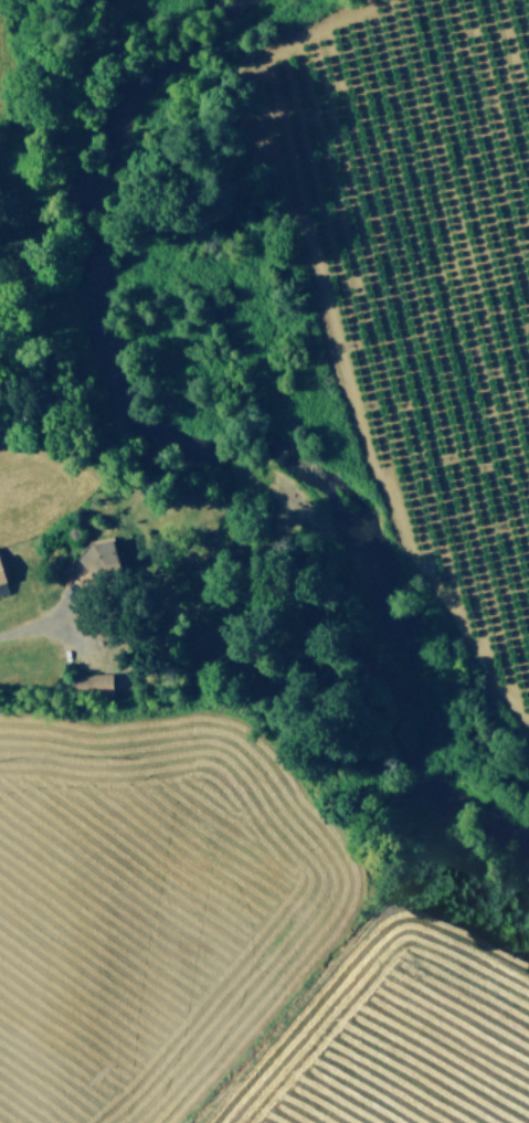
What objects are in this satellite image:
river: (207, 439)
building: (96, 558)
building: (2, 582)
road: (34, 625)
building: (89, 681)
crop: (225, 951)

